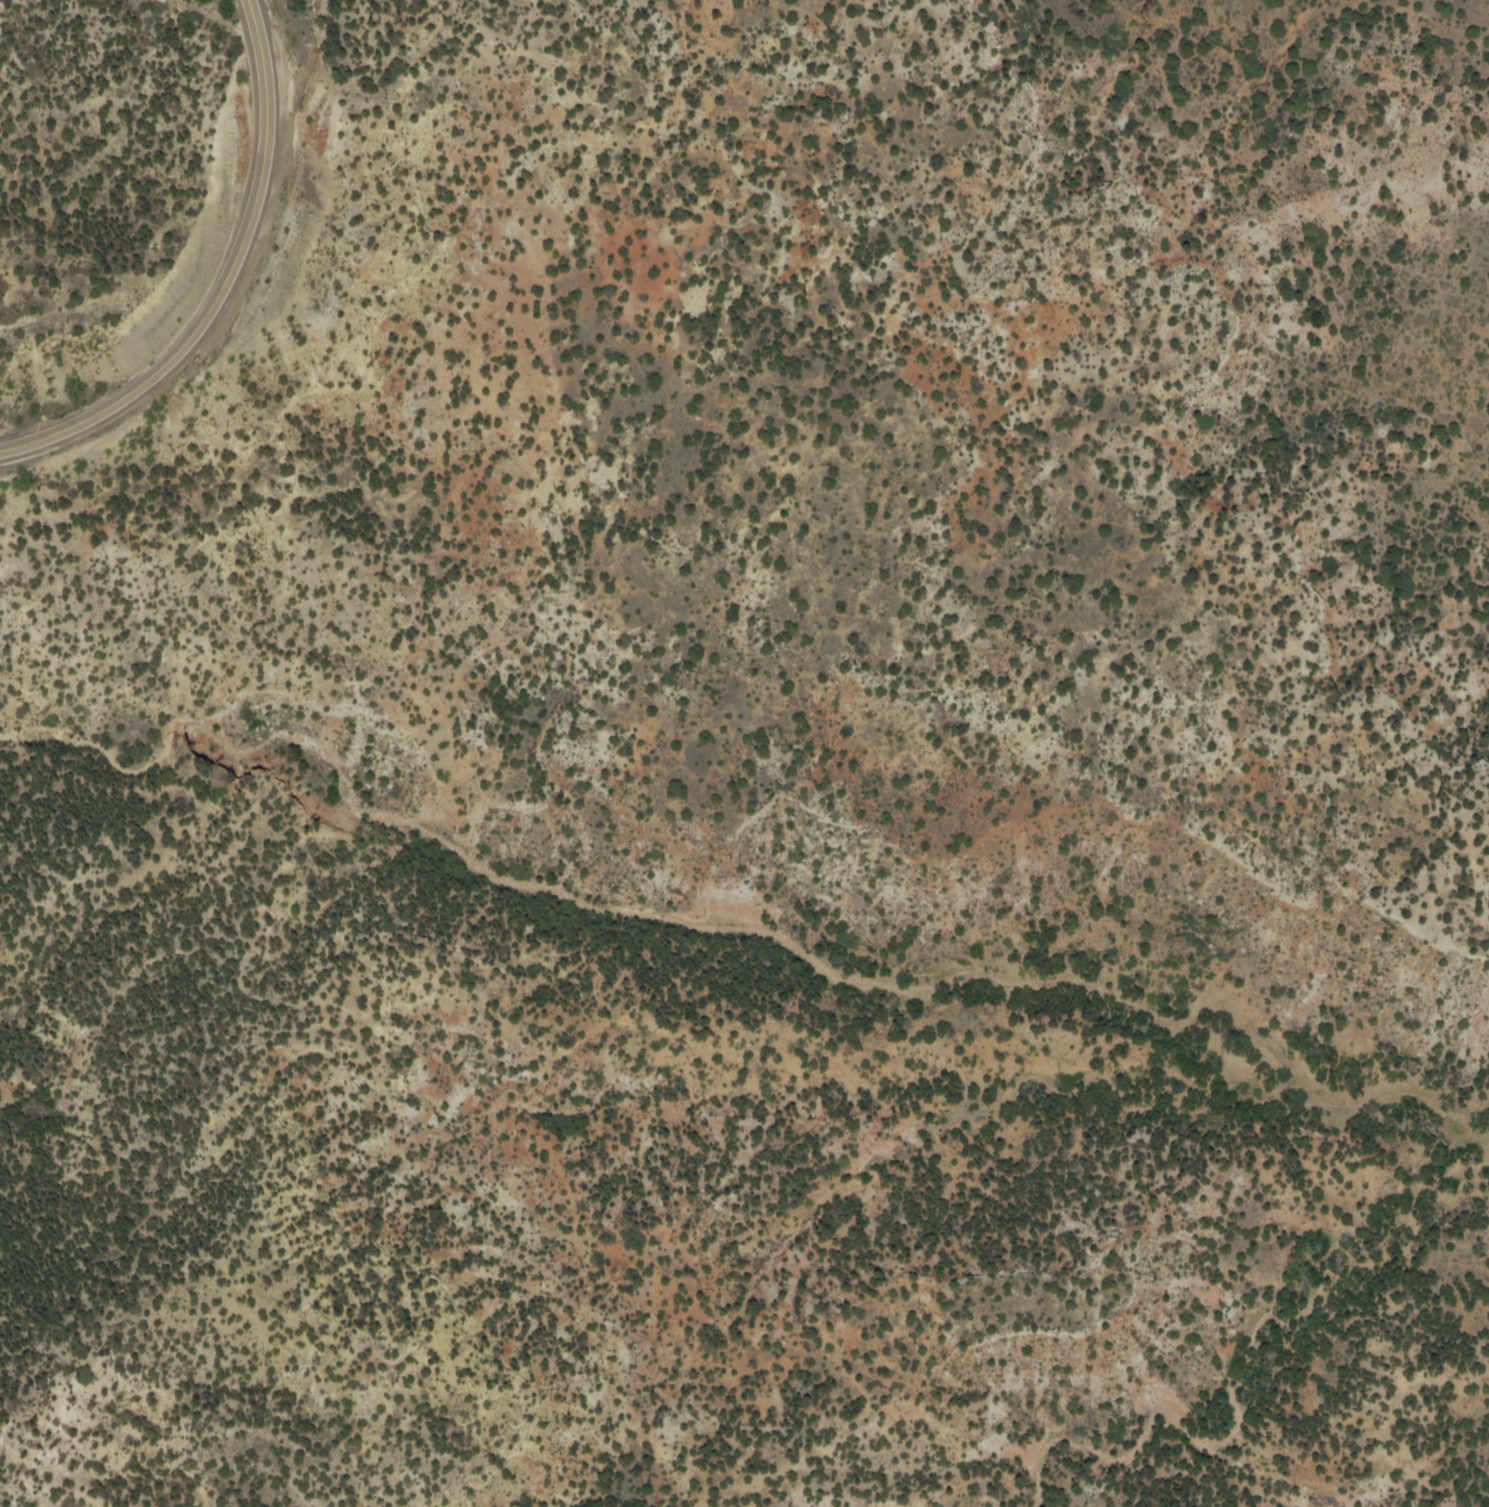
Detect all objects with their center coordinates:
road: (222, 281)
park: (11, 1449)

